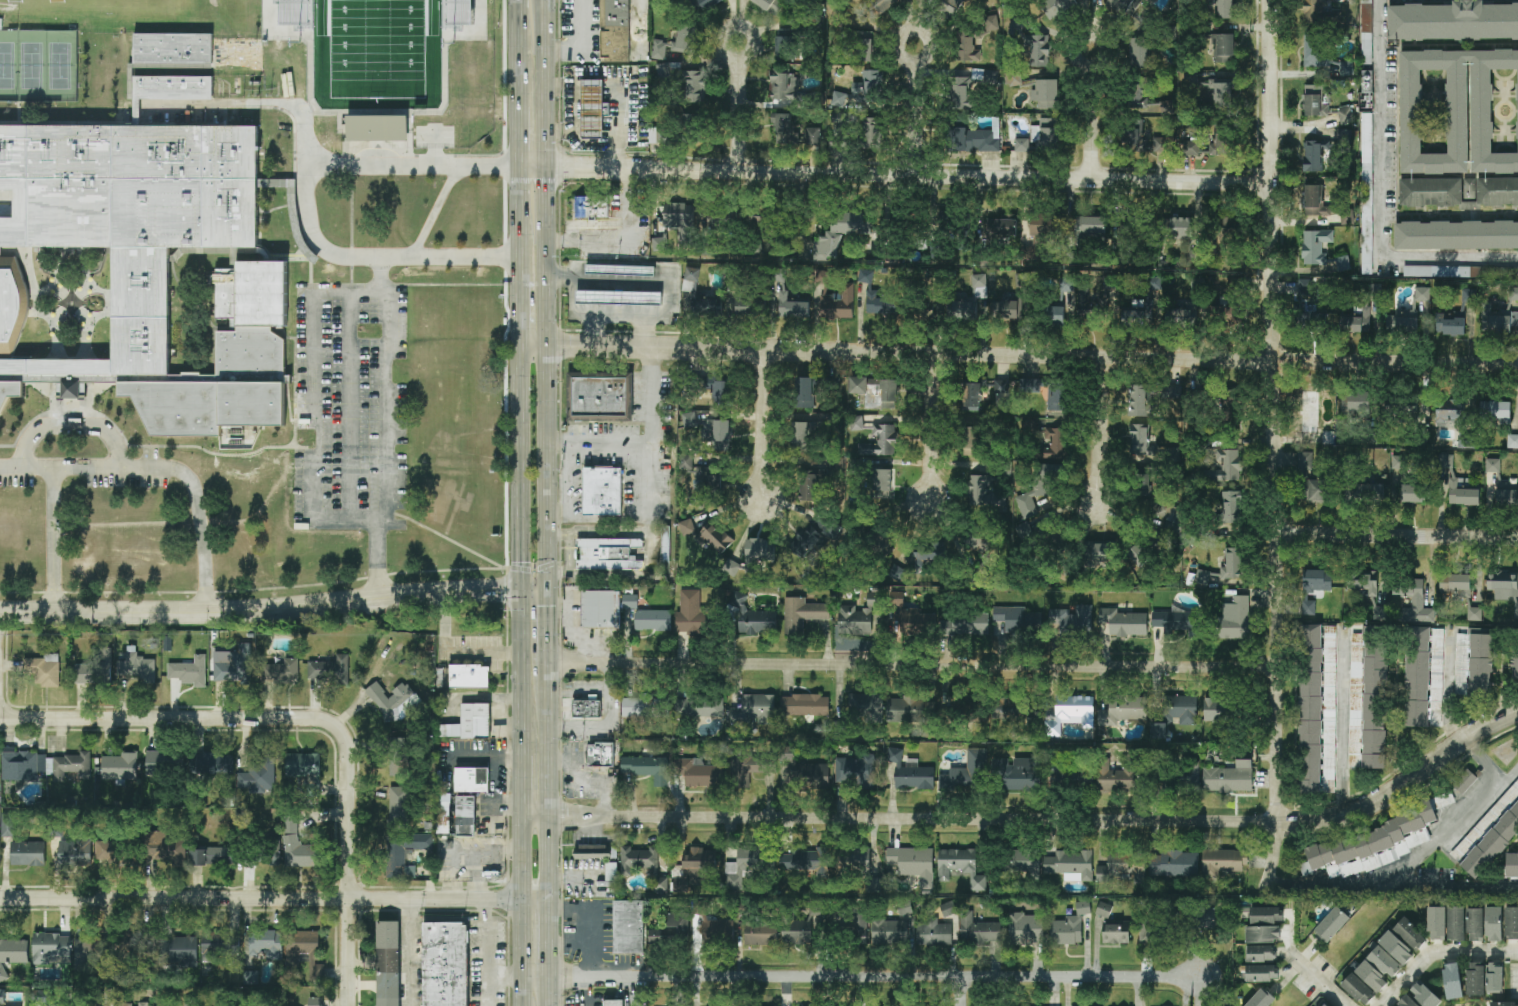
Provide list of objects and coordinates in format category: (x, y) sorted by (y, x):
park: (87, 4)
building: (706, 5)
building: (771, 5)
building: (880, 6)
building: (947, 6)
building: (1124, 6)
building: (1226, 9)
building: (1317, 9)
building: (296, 12)
building: (459, 12)
building: (1453, 21)
building: (991, 23)
road: (635, 24)
building: (615, 31)
building: (1367, 32)
road: (925, 37)
road: (580, 41)
building: (677, 43)
building: (787, 44)
building: (865, 46)
building: (967, 48)
building: (1223, 48)
building: (172, 49)
building: (1037, 50)
building: (1139, 51)
building: (1315, 51)
park: (379, 52)
park: (7, 66)
park: (31, 66)
park: (59, 66)
building: (1346, 68)
building: (686, 80)
building: (785, 86)
building: (869, 87)
building: (959, 92)
building: (1046, 94)
building: (1217, 95)
building: (839, 99)
building: (1313, 100)
building: (1147, 101)
road: (250, 103)
road: (1383, 103)
road: (443, 107)
road: (742, 108)
building: (593, 109)
road: (315, 110)
building: (1459, 112)
building: (691, 113)
road: (1094, 114)
building: (1345, 114)
road: (917, 118)
building: (375, 128)
building: (794, 132)
building: (871, 132)
building: (1049, 133)
building: (660, 136)
building: (1344, 137)
building: (976, 139)
building: (1136, 140)
building: (1220, 144)
building: (1022, 145)
building: (1161, 145)
building: (1312, 156)
road: (520, 173)
road: (546, 173)
road: (896, 176)
building: (1470, 189)
building: (1431, 192)
building: (1497, 192)
building: (1367, 194)
building: (1314, 202)
road: (308, 203)
building: (591, 208)
road: (434, 212)
building: (681, 214)
building: (948, 219)
building: (1042, 224)
building: (759, 225)
building: (1222, 227)
building: (1002, 228)
building: (1094, 228)
building: (842, 232)
building: (1180, 235)
building: (1456, 235)
building: (659, 244)
building: (1315, 246)
building: (1029, 251)
road: (1426, 256)
building: (1343, 264)
building: (136, 265)
building: (607, 269)
road: (381, 270)
building: (1461, 272)
building: (692, 274)
building: (865, 276)
building: (1023, 279)
road: (650, 284)
building: (1067, 285)
building: (979, 286)
road: (348, 293)
building: (1513, 293)
building: (1422, 294)
building: (1469, 295)
building: (1086, 299)
building: (1308, 302)
building: (838, 304)
building: (880, 304)
road: (573, 305)
building: (706, 305)
building: (790, 306)
building: (746, 307)
building: (938, 309)
building: (1361, 309)
building: (1007, 310)
building: (1227, 310)
building: (962, 311)
building: (1054, 313)
building: (1185, 313)
road: (602, 314)
building: (1138, 316)
building: (1498, 320)
building: (1402, 321)
building: (1450, 323)
road: (536, 346)
road: (1034, 356)
building: (1001, 386)
building: (876, 391)
building: (804, 392)
building: (1171, 392)
building: (722, 393)
building: (971, 394)
building: (599, 396)
building: (1057, 397)
building: (1141, 400)
building: (1356, 402)
road: (351, 405)
road: (314, 407)
building: (1401, 408)
parking lot: (352, 409)
building: (1495, 410)
road: (1275, 411)
building: (1309, 411)
building: (1450, 412)
building: (689, 419)
road: (73, 422)
road: (758, 426)
road: (930, 428)
road: (1096, 429)
building: (717, 434)
building: (801, 436)
building: (1327, 437)
road: (388, 438)
building: (1141, 440)
road: (600, 441)
building: (971, 441)
building: (1466, 441)
building: (1512, 441)
building: (881, 442)
building: (1055, 444)
building: (686, 461)
road: (547, 465)
building: (837, 465)
building: (855, 465)
building: (1493, 465)
road: (522, 466)
building: (1225, 466)
building: (1399, 466)
parking lot: (90, 471)
road: (28, 473)
building: (1303, 474)
road: (567, 478)
road: (646, 480)
building: (1143, 481)
road: (187, 482)
building: (712, 482)
building: (880, 484)
building: (808, 487)
building: (1041, 487)
building: (602, 491)
building: (1320, 491)
building: (981, 492)
building: (1371, 493)
building: (1462, 493)
building: (1412, 494)
building: (1507, 495)
building: (1230, 507)
road: (349, 518)
building: (687, 527)
building: (1025, 530)
building: (813, 537)
road: (1398, 537)
building: (715, 539)
road: (57, 541)
building: (758, 552)
building: (931, 552)
building: (1103, 553)
building: (608, 554)
building: (1137, 557)
building: (1232, 563)
building: (1202, 577)
building: (1316, 580)
building: (1363, 581)
building: (1455, 585)
building: (1502, 585)
traffic signals: (522, 586)
road: (534, 586)
traffic signals: (546, 586)
building: (874, 599)
building: (630, 601)
building: (1414, 601)
building: (1308, 607)
road: (261, 608)
building: (601, 609)
building: (1516, 612)
building: (1379, 613)
building: (691, 614)
building: (802, 614)
building: (1474, 614)
building: (909, 618)
building: (1018, 619)
building: (1236, 619)
building: (854, 620)
building: (757, 622)
building: (1071, 622)
building: (1177, 622)
road: (547, 624)
building: (964, 624)
building: (1122, 624)
road: (0, 633)
road: (454, 651)
building: (1481, 662)
building: (1462, 664)
building: (234, 665)
road: (912, 666)
building: (1515, 667)
building: (136, 668)
building: (329, 669)
building: (44, 670)
building: (95, 670)
building: (190, 671)
building: (284, 671)
building: (469, 676)
building: (1417, 677)
building: (1437, 677)
road: (1447, 687)
building: (1356, 699)
building: (1375, 699)
building: (394, 701)
building: (805, 705)
building: (644, 706)
building: (700, 707)
building: (865, 707)
building: (1181, 708)
building: (587, 709)
building: (1311, 709)
building: (1330, 709)
building: (755, 710)
building: (910, 710)
building: (1123, 710)
building: (1217, 710)
building: (1017, 711)
building: (1069, 713)
road: (257, 718)
road: (1342, 721)
building: (470, 722)
building: (1158, 731)
building: (601, 755)
building: (398, 756)
building: (206, 762)
building: (159, 763)
road: (1484, 763)
building: (21, 764)
building: (303, 765)
building: (69, 766)
building: (120, 766)
building: (647, 768)
building: (749, 768)
building: (855, 770)
building: (807, 771)
building: (699, 773)
building: (910, 773)
building: (967, 774)
building: (1018, 774)
building: (1072, 774)
building: (259, 777)
building: (1229, 777)
building: (1115, 778)
building: (472, 780)
road: (548, 781)
building: (1181, 781)
building: (1464, 781)
road: (1404, 784)
road: (522, 795)
building: (399, 802)
building: (444, 813)
building: (465, 816)
road: (900, 818)
road: (1463, 820)
building: (8, 824)
building: (1490, 835)
building: (298, 845)
building: (164, 847)
building: (593, 851)
building: (75, 852)
building: (405, 852)
building: (28, 853)
building: (220, 856)
road: (1274, 856)
building: (199, 857)
building: (269, 857)
building: (806, 860)
building: (1025, 861)
building: (860, 862)
building: (1222, 862)
building: (1070, 863)
building: (1174, 863)
building: (643, 864)
building: (912, 864)
building: (746, 865)
building: (1512, 865)
building: (961, 866)
building: (695, 868)
building: (1124, 868)
building: (611, 871)
road: (1478, 877)
road: (1336, 884)
road: (1453, 886)
road: (274, 900)
building: (1083, 907)
building: (948, 909)
building: (1104, 909)
building: (1206, 917)
building: (1437, 923)
building: (1456, 923)
building: (1511, 923)
building: (1332, 924)
building: (1475, 924)
building: (1494, 924)
building: (1265, 925)
building: (628, 927)
building: (978, 930)
building: (1026, 930)
building: (1150, 930)
building: (1067, 931)
building: (718, 932)
building: (797, 932)
building: (890, 932)
building: (933, 932)
building: (669, 933)
building: (1116, 933)
building: (1410, 934)
building: (761, 935)
road: (548, 938)
building: (258, 943)
building: (219, 945)
building: (1396, 948)
building: (51, 949)
building: (93, 950)
building: (180, 950)
building: (307, 950)
road: (1437, 952)
road: (350, 953)
road: (408, 953)
road: (486, 953)
building: (1260, 953)
building: (12, 954)
building: (1384, 960)
building: (388, 964)
building: (444, 965)
building: (1261, 973)
building: (1371, 976)
road: (536, 977)
road: (874, 977)
building: (1495, 977)
building: (1475, 979)
road: (1317, 980)
building: (1452, 981)
building: (1358, 989)
road: (549, 991)
road: (962, 991)
building: (1425, 995)
building: (2, 996)
building: (1261, 999)
building: (314, 1001)
building: (1407, 1001)
building: (190, 1002)
building: (1319, 1002)
building: (613, 1003)
building: (143, 1004)
building: (1504, 1004)
building: (1324, 1005)

